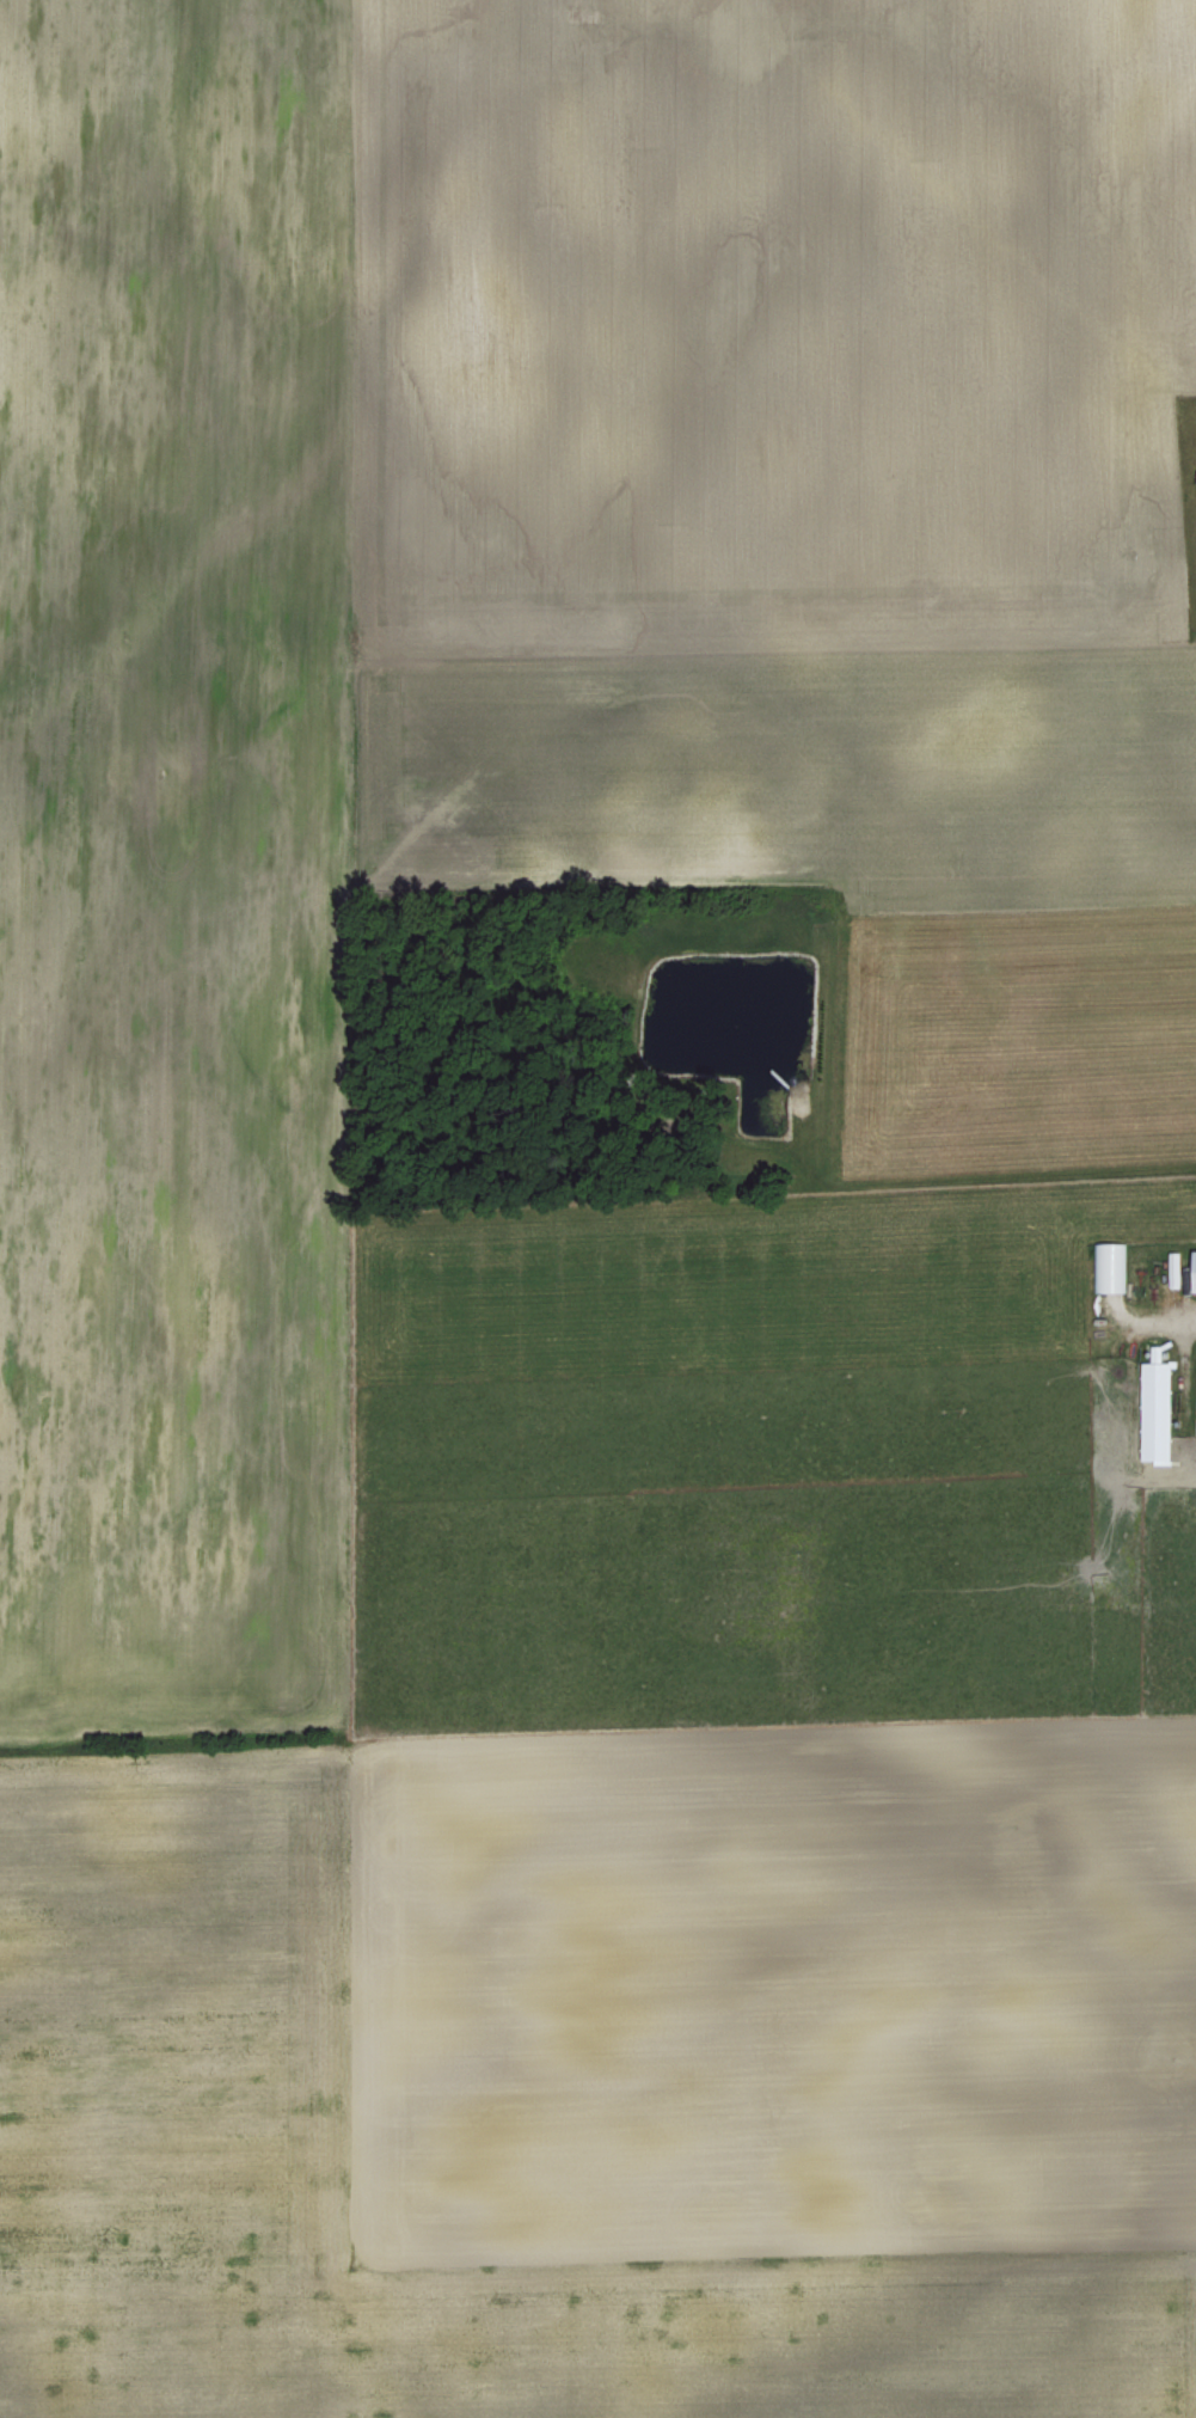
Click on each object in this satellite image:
building: (1105, 1266)
building: (1170, 1268)
building: (1188, 1268)
road: (1154, 1318)
building: (1151, 1409)

